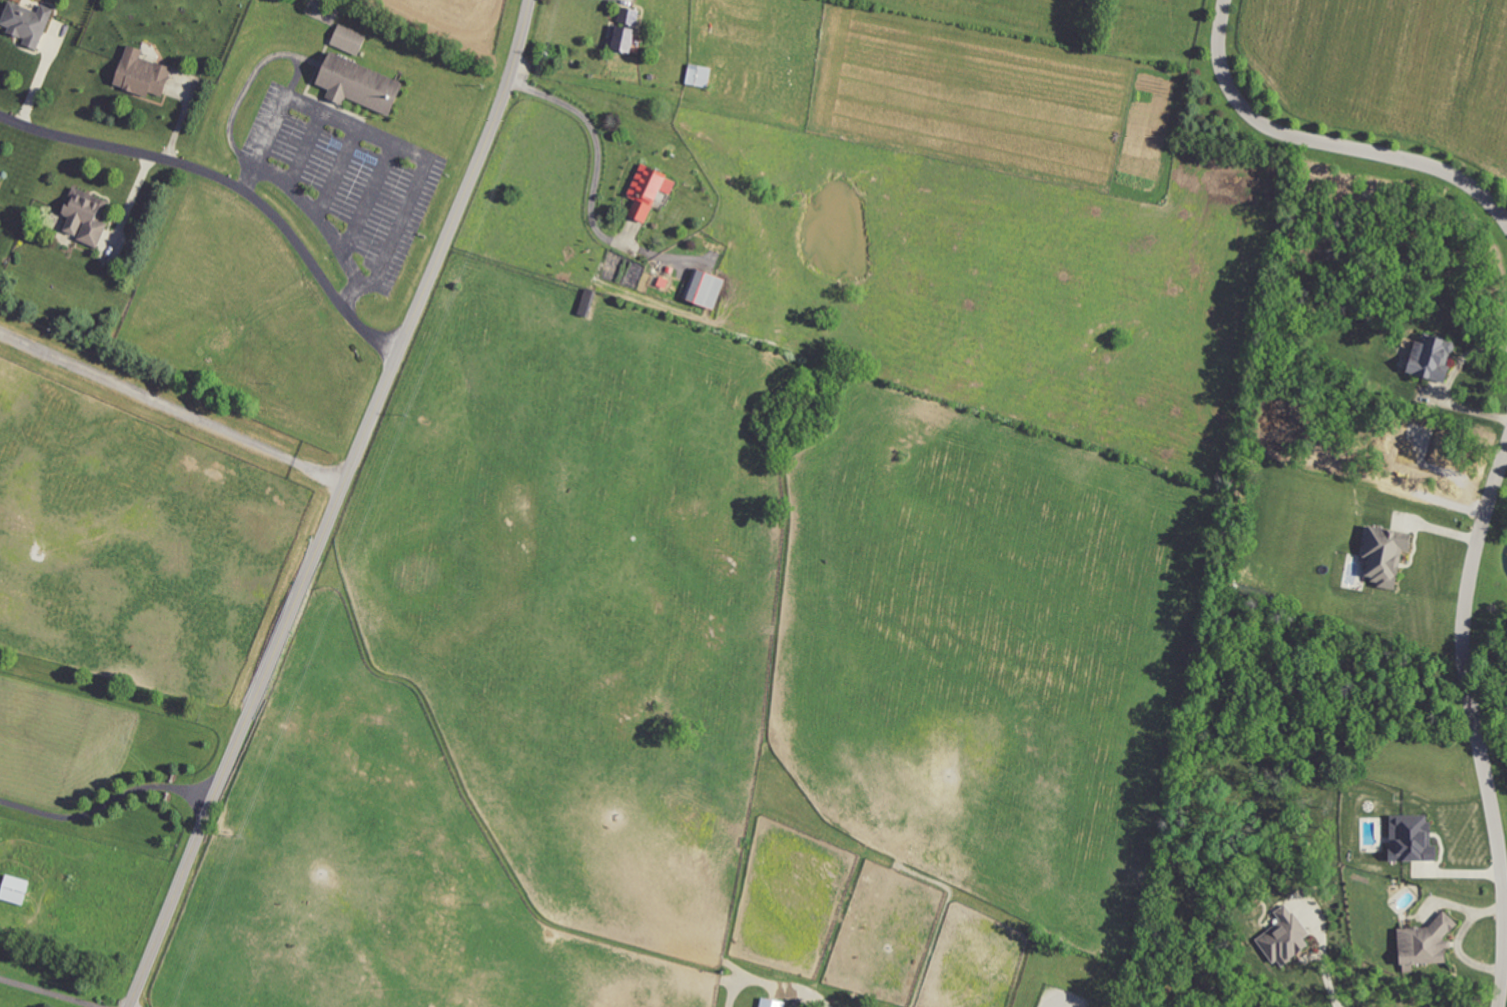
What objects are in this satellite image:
building: (29, 23)
building: (628, 30)
building: (351, 40)
building: (145, 74)
building: (701, 75)
building: (363, 85)
road: (595, 134)
road: (386, 139)
road: (1324, 144)
building: (0, 178)
road: (230, 185)
building: (649, 191)
road: (129, 205)
road: (316, 217)
building: (87, 218)
building: (711, 289)
building: (1435, 357)
road: (1448, 385)
road: (173, 407)
road: (336, 505)
building: (1390, 555)
road: (1474, 726)
road: (106, 801)
building: (1415, 839)
building: (17, 890)
building: (1288, 939)
building: (1424, 945)
road: (1324, 965)
road: (773, 983)
road: (48, 993)
building: (774, 1003)

